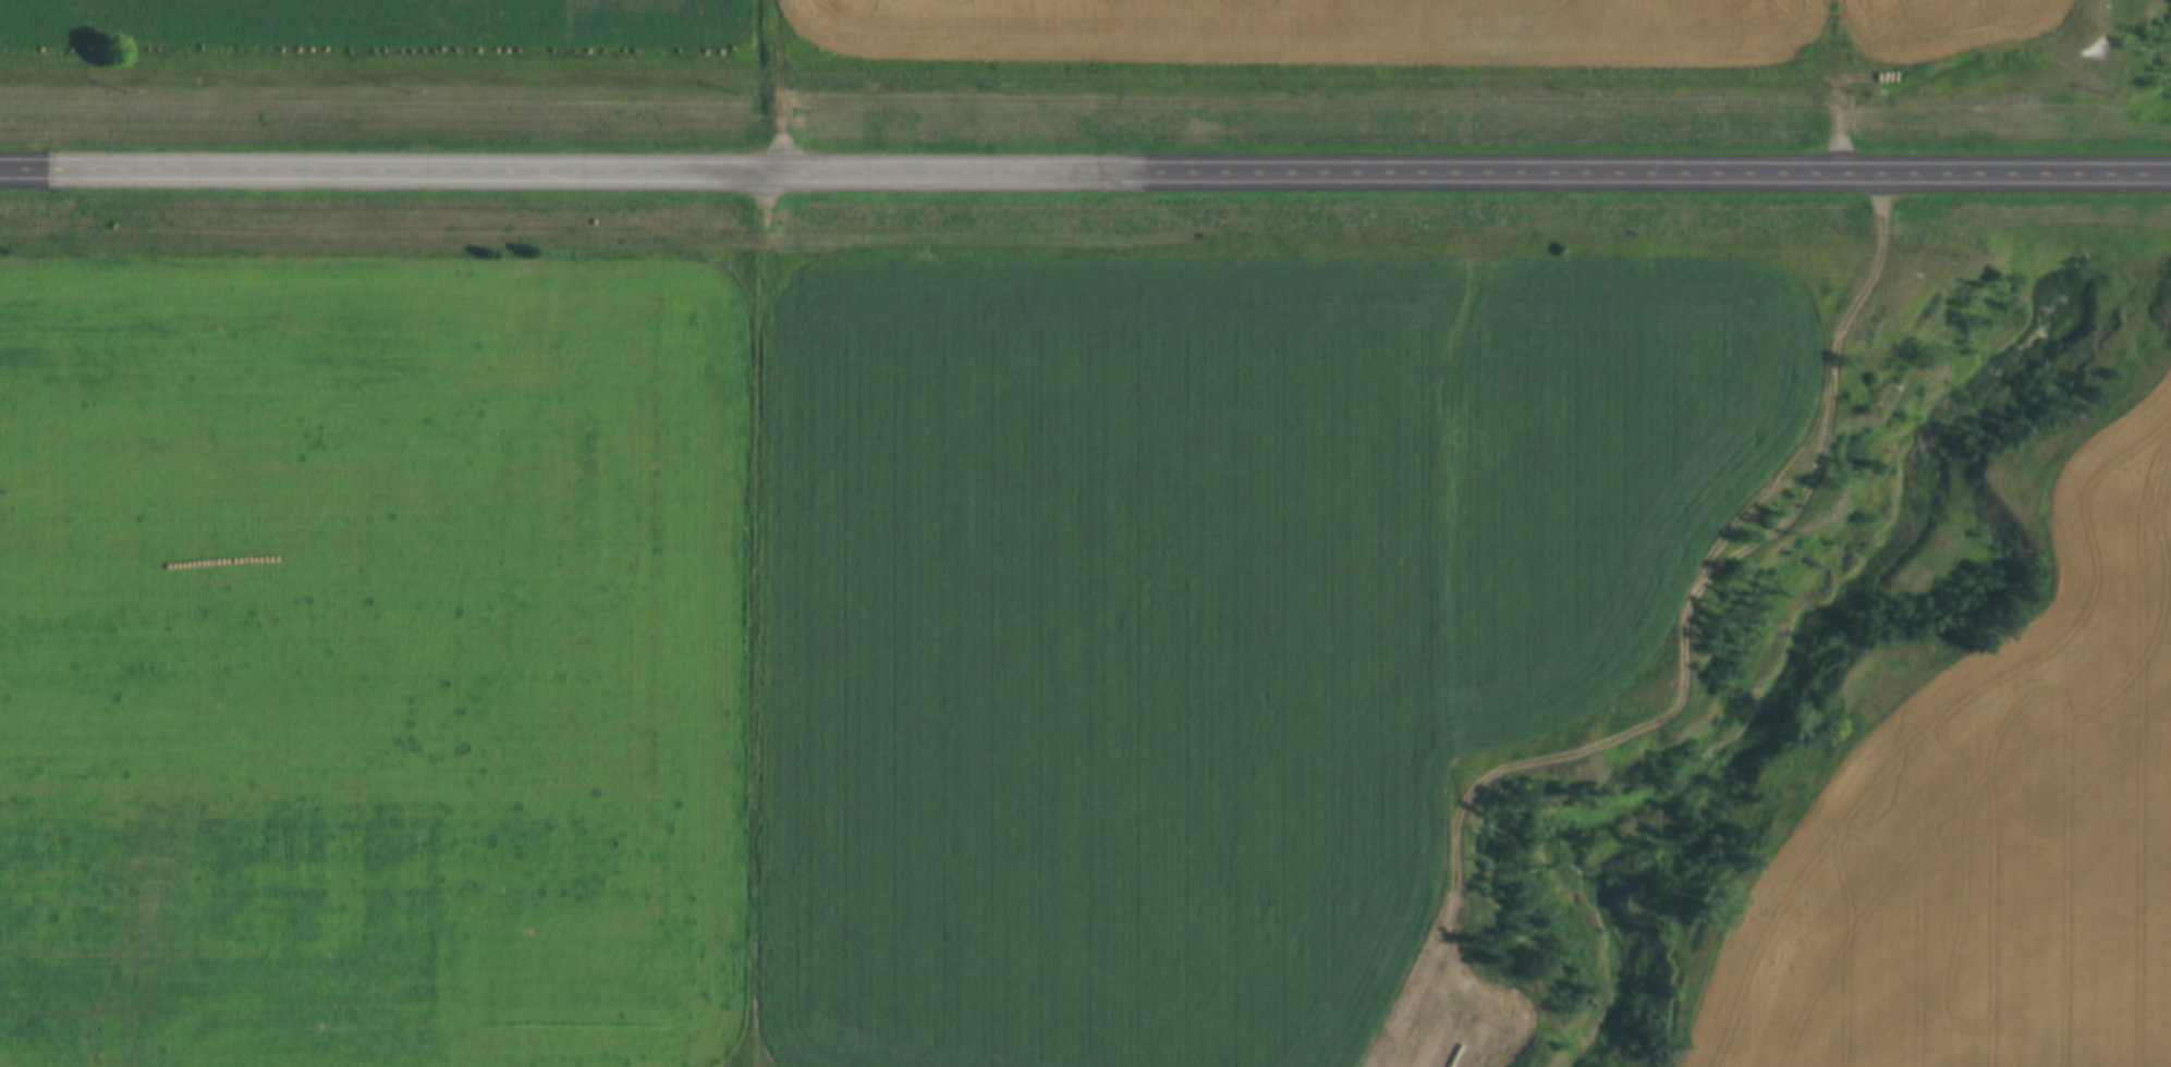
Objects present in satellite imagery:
road: (1085, 167)
road: (1676, 665)

